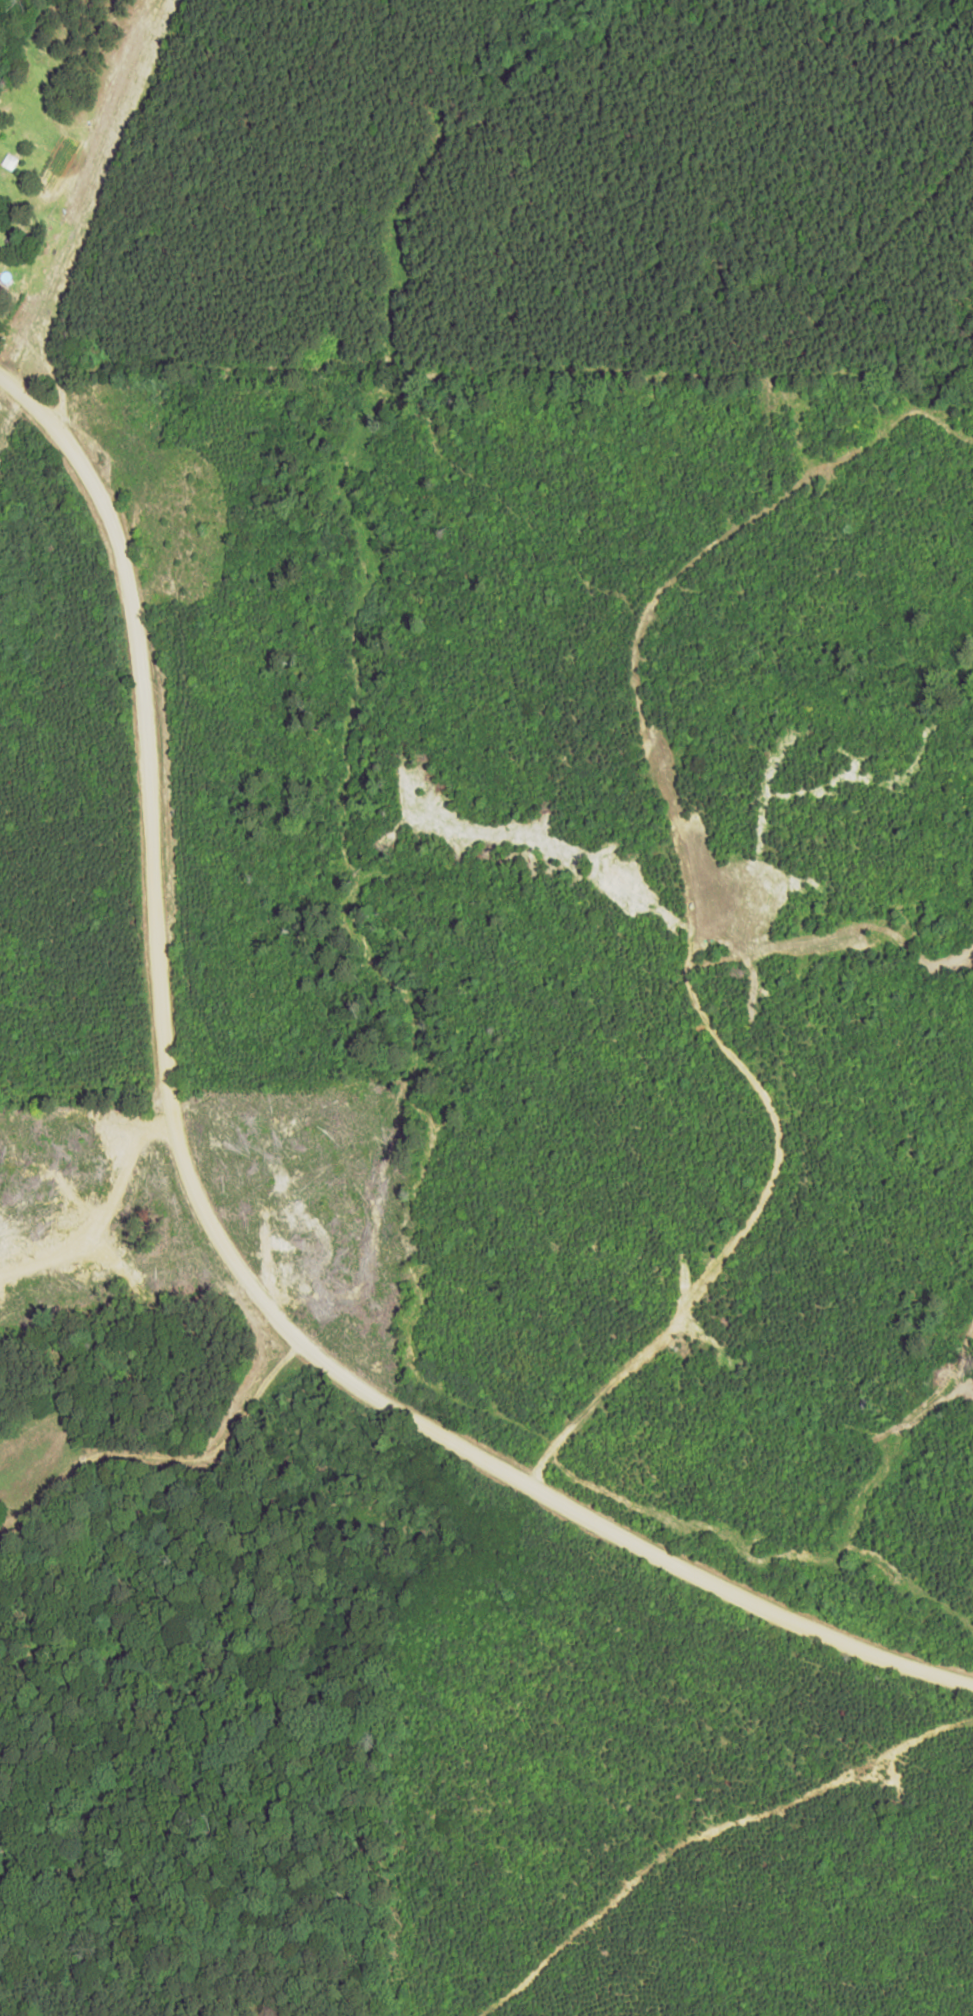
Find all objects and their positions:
road: (228, 1267)
road: (352, 1692)

